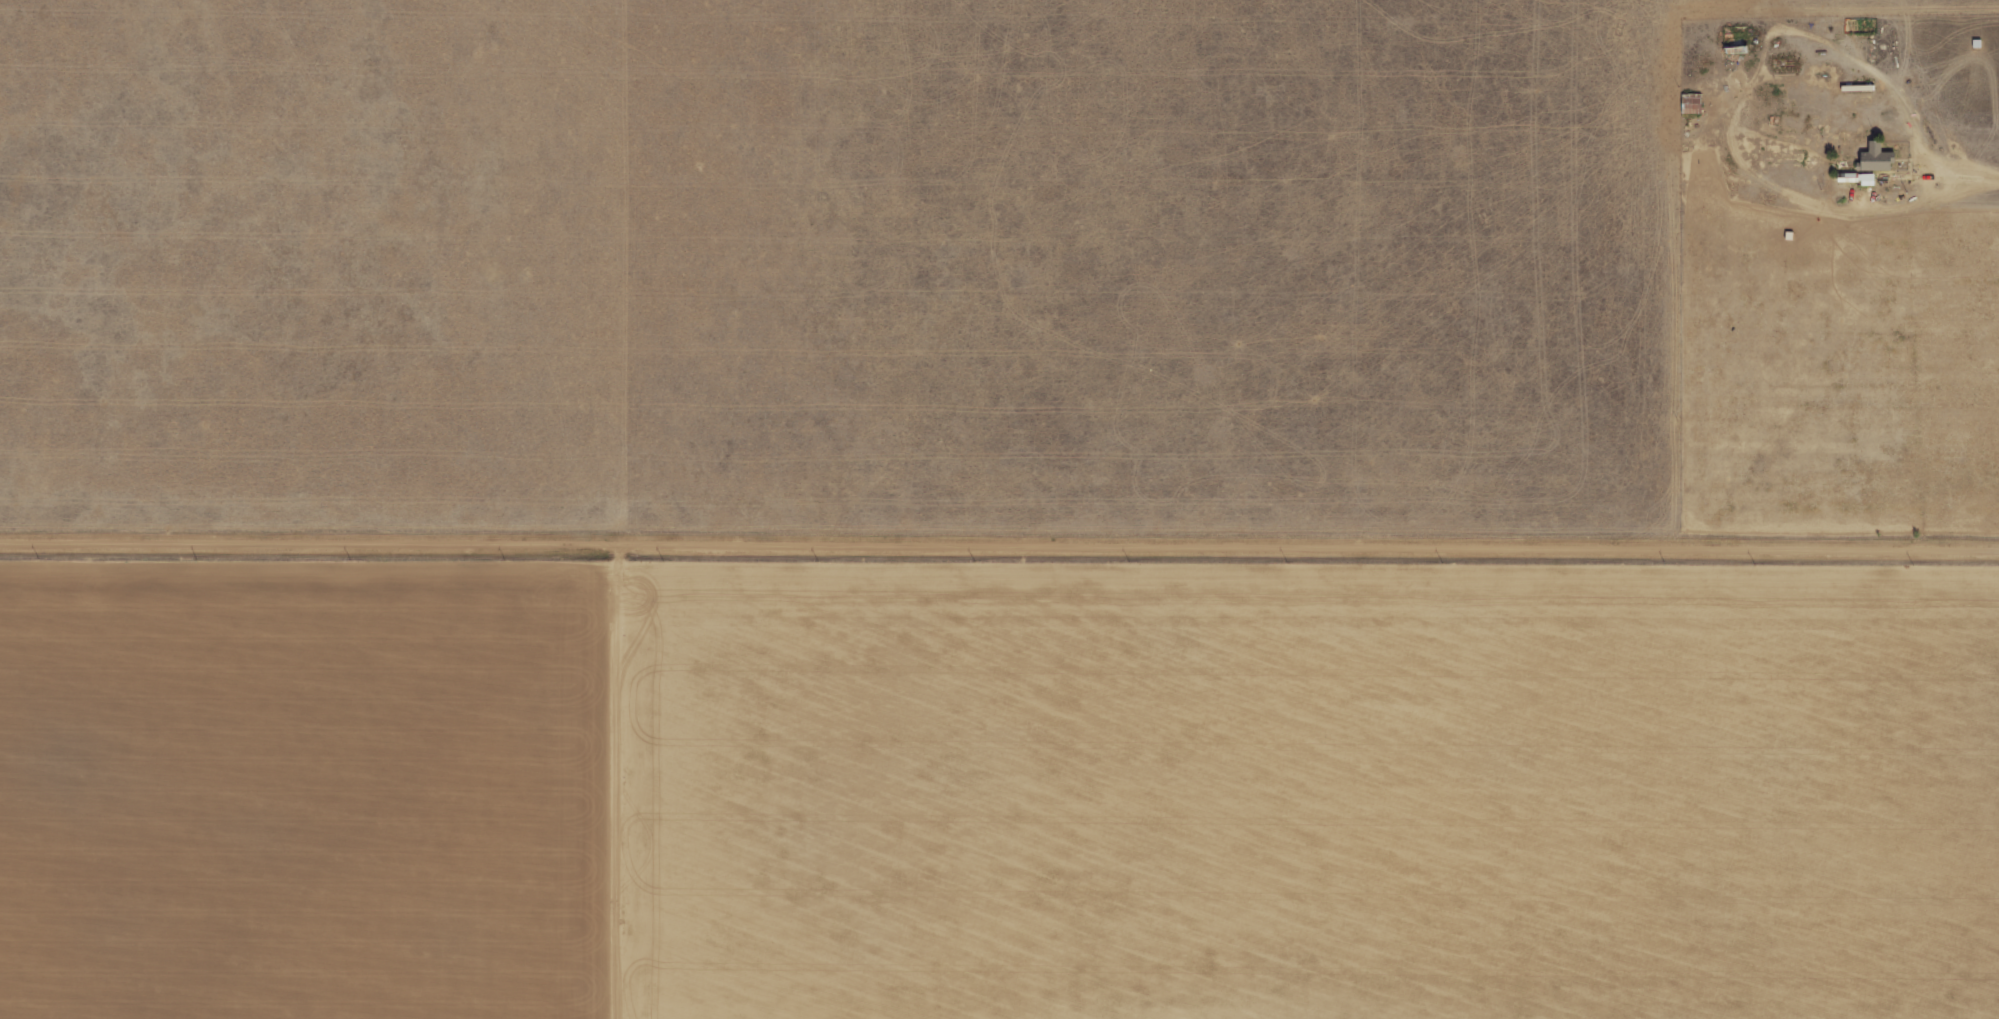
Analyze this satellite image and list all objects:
building: (1736, 40)
building: (1692, 104)
building: (1877, 159)
road: (1952, 174)
road: (999, 547)
road: (612, 783)

